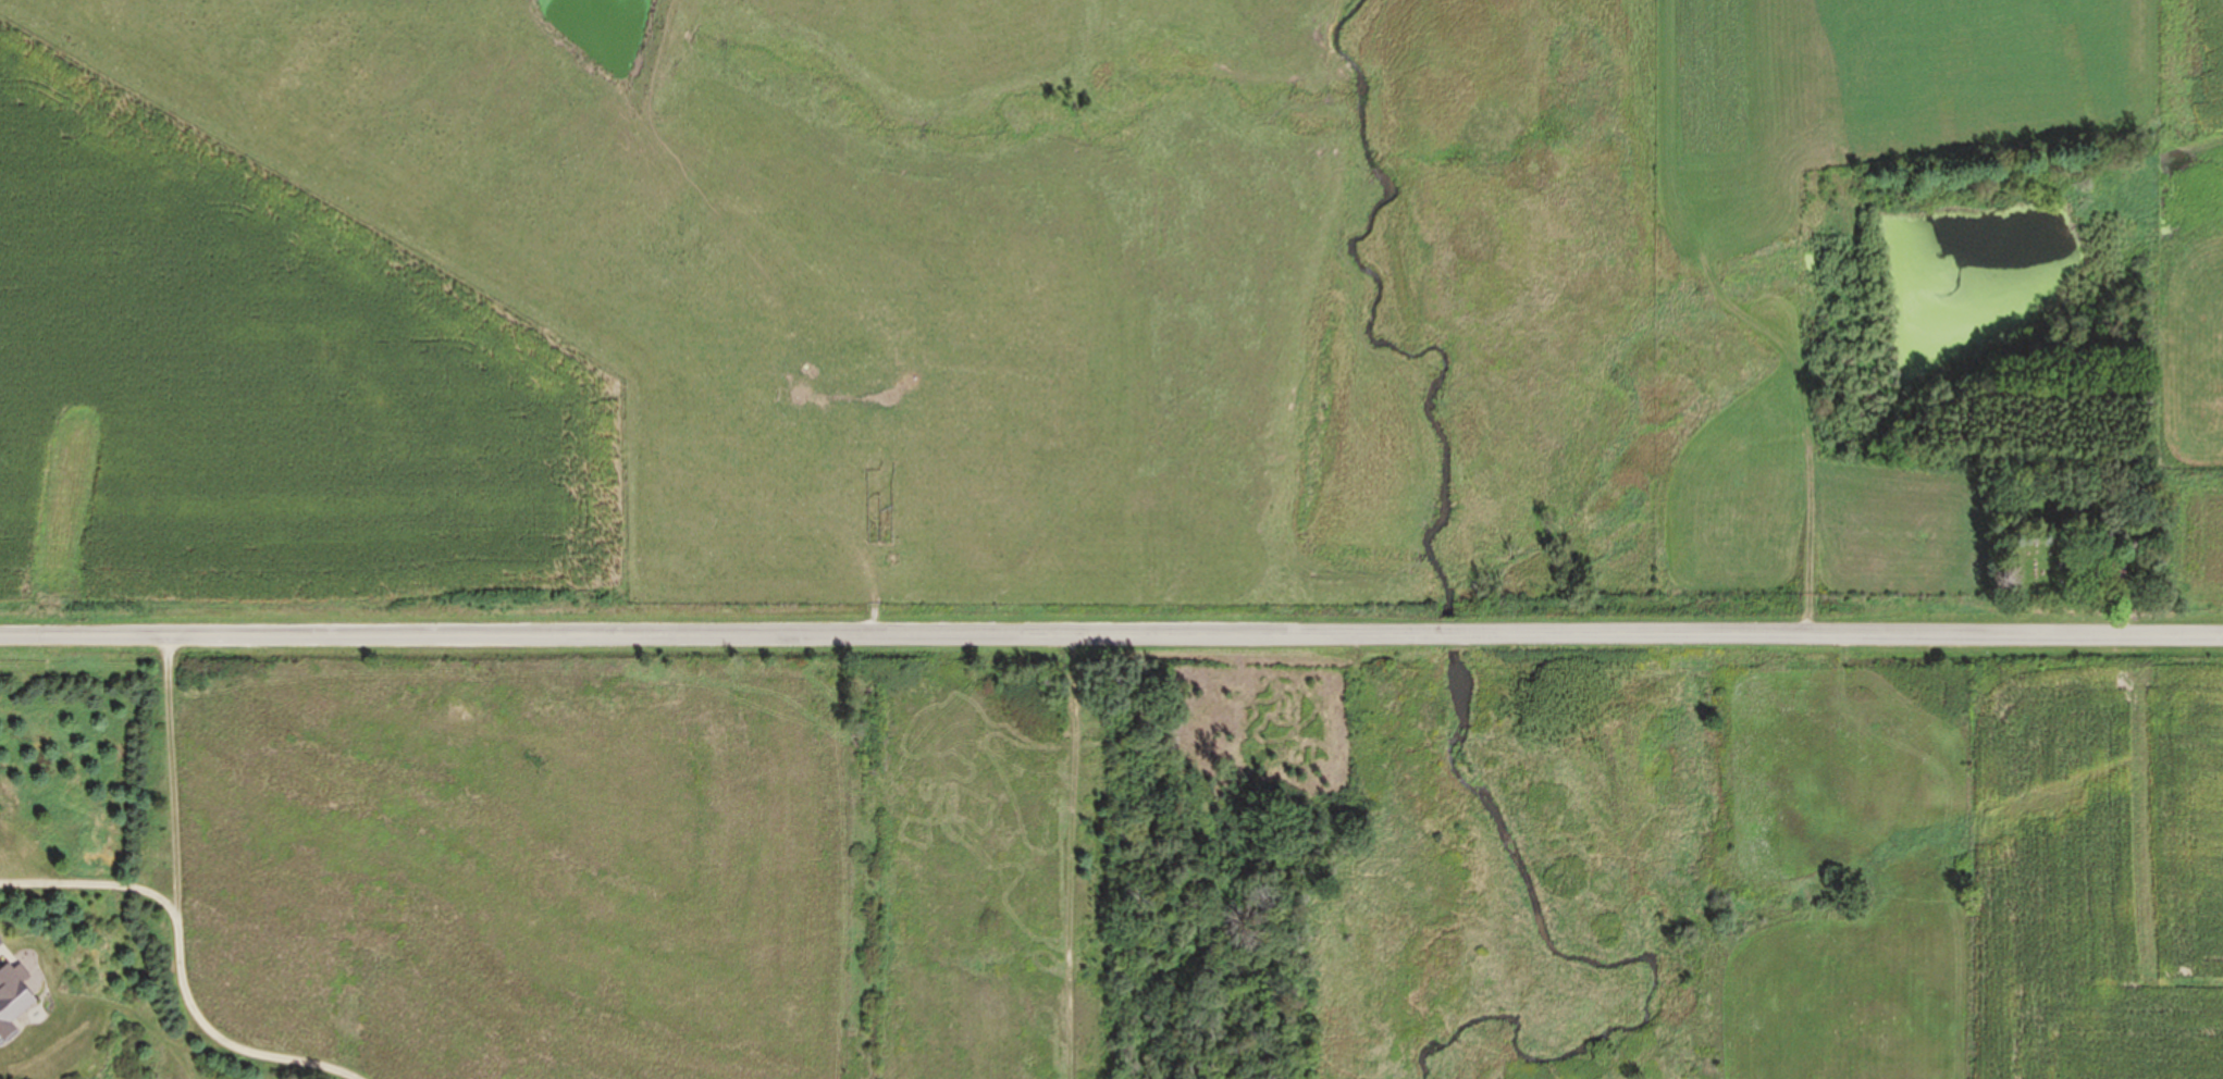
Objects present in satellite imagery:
park: (2083, 547)
building: (2120, 570)
road: (1111, 634)
road: (166, 776)
road: (175, 965)
building: (14, 1000)

